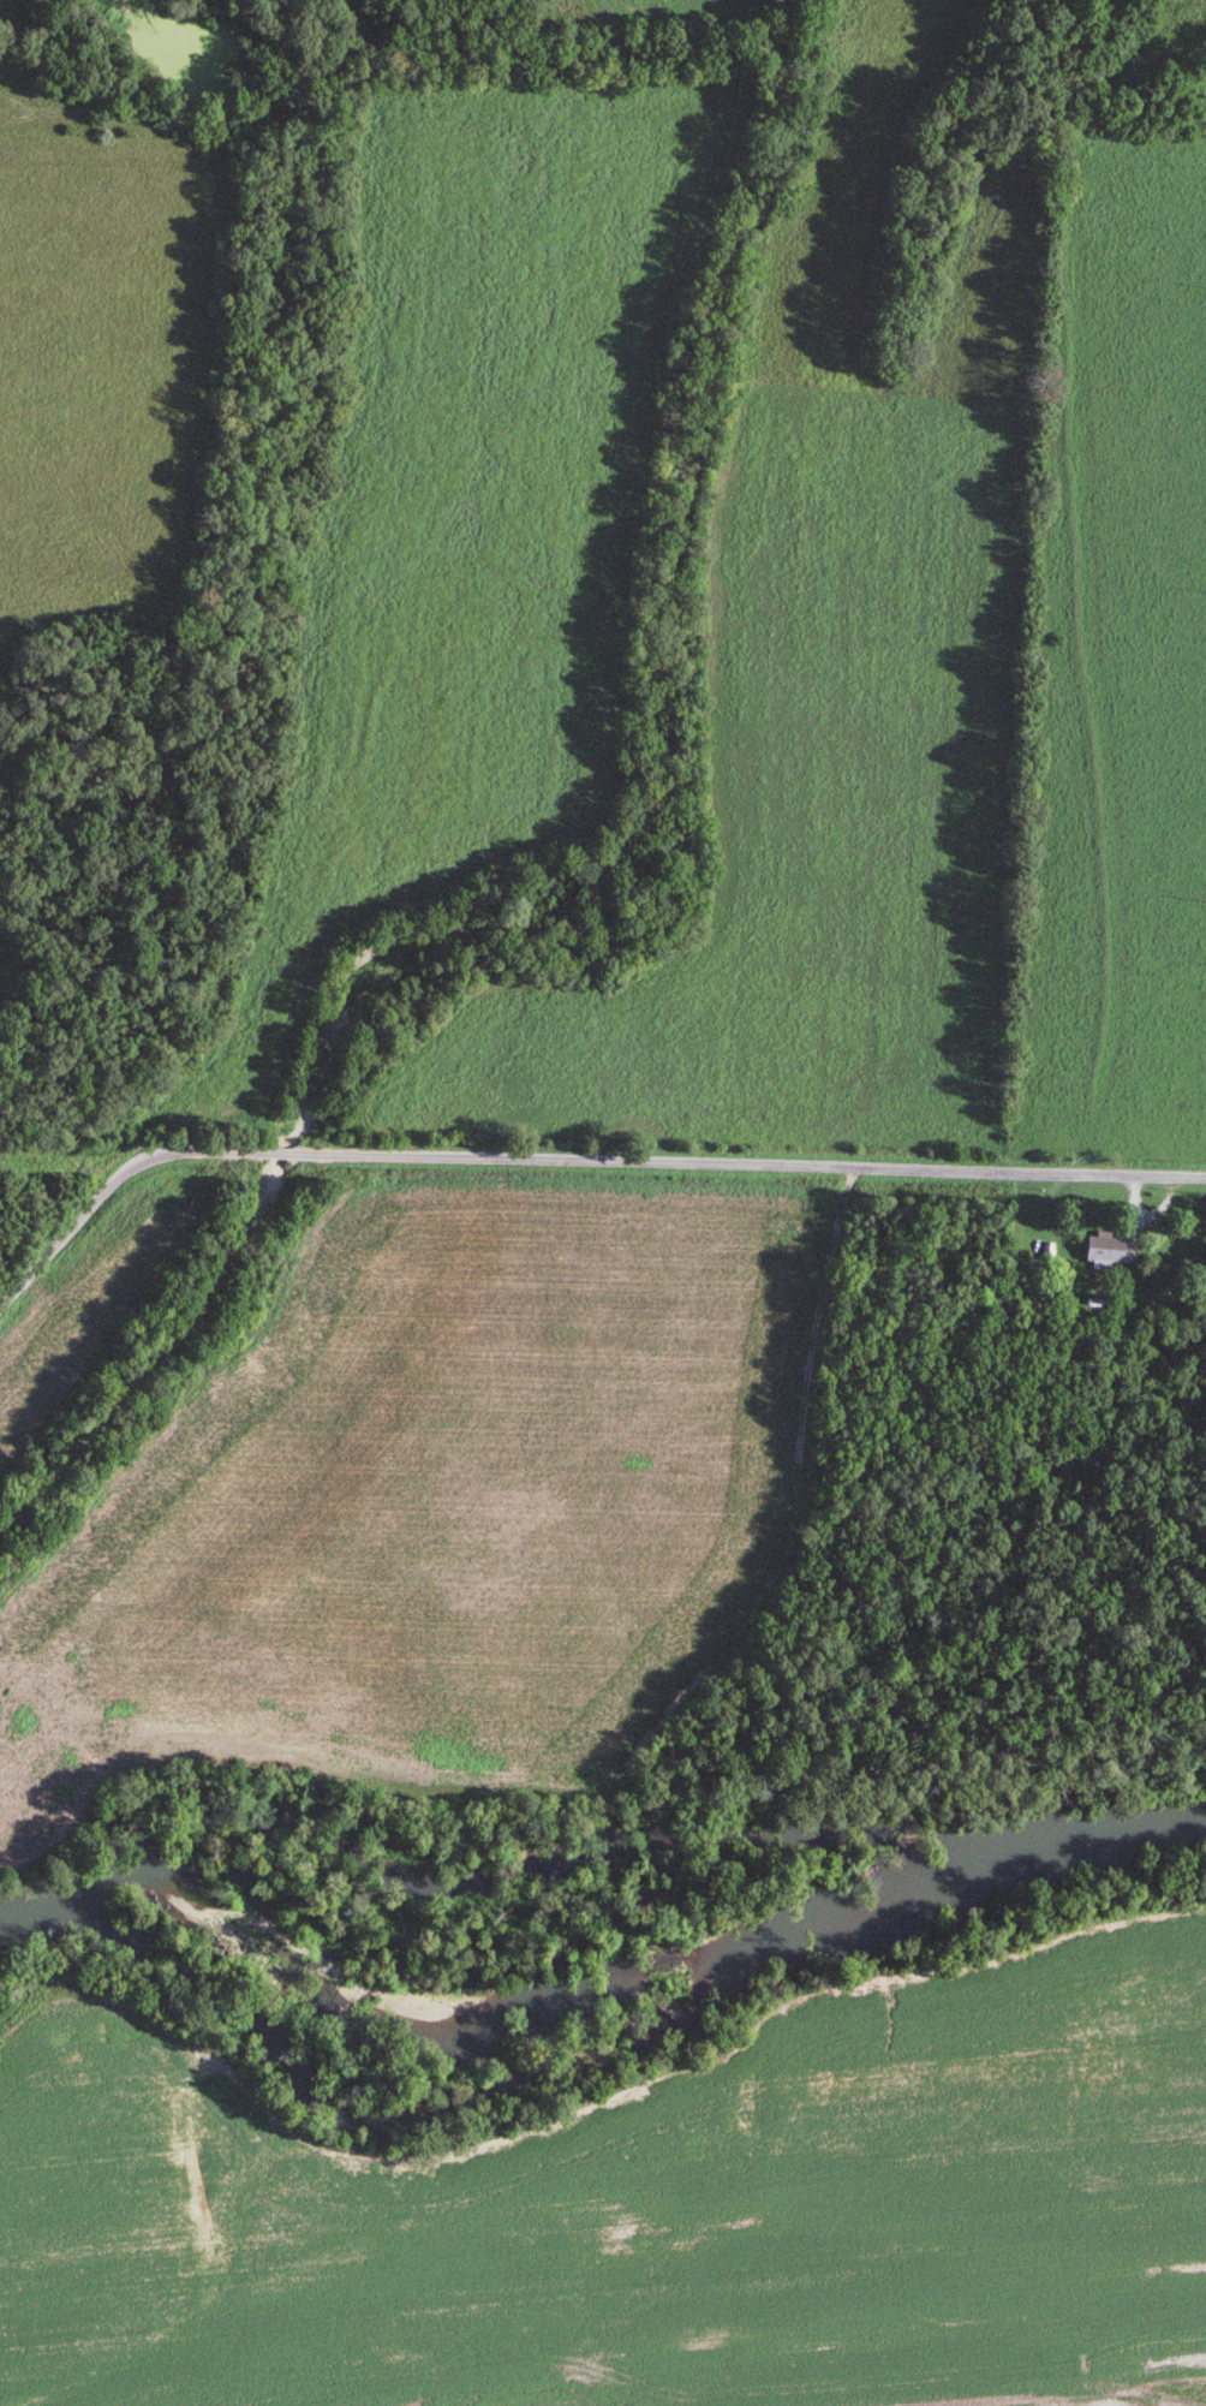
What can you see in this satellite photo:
road: (571, 1159)
building: (1112, 1249)

